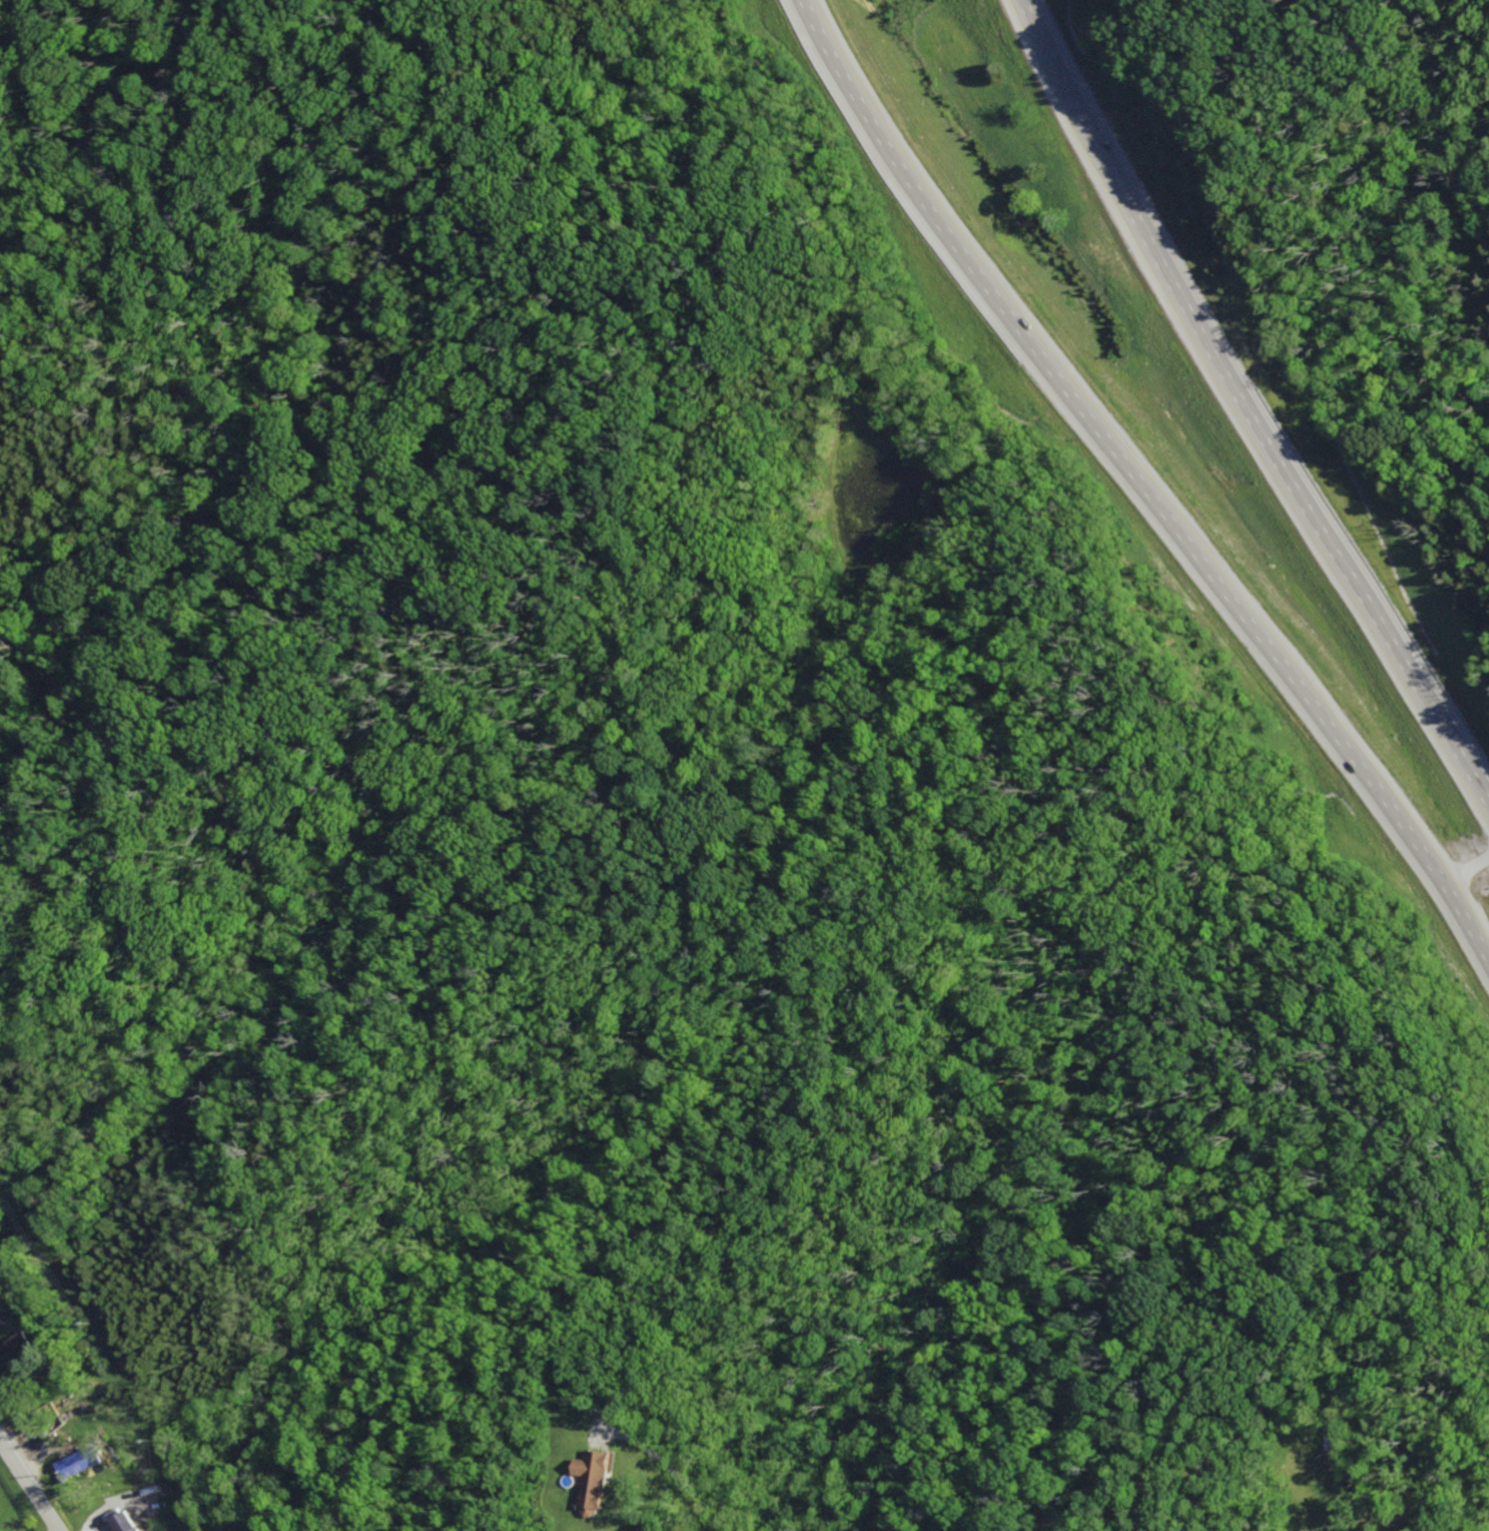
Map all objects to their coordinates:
road: (1251, 396)
road: (1141, 487)
road: (1465, 875)
building: (0, 1299)
building: (20, 1347)
building: (1336, 1437)
building: (78, 1462)
road: (678, 1471)
building: (598, 1481)
road: (28, 1486)
building: (128, 1521)

